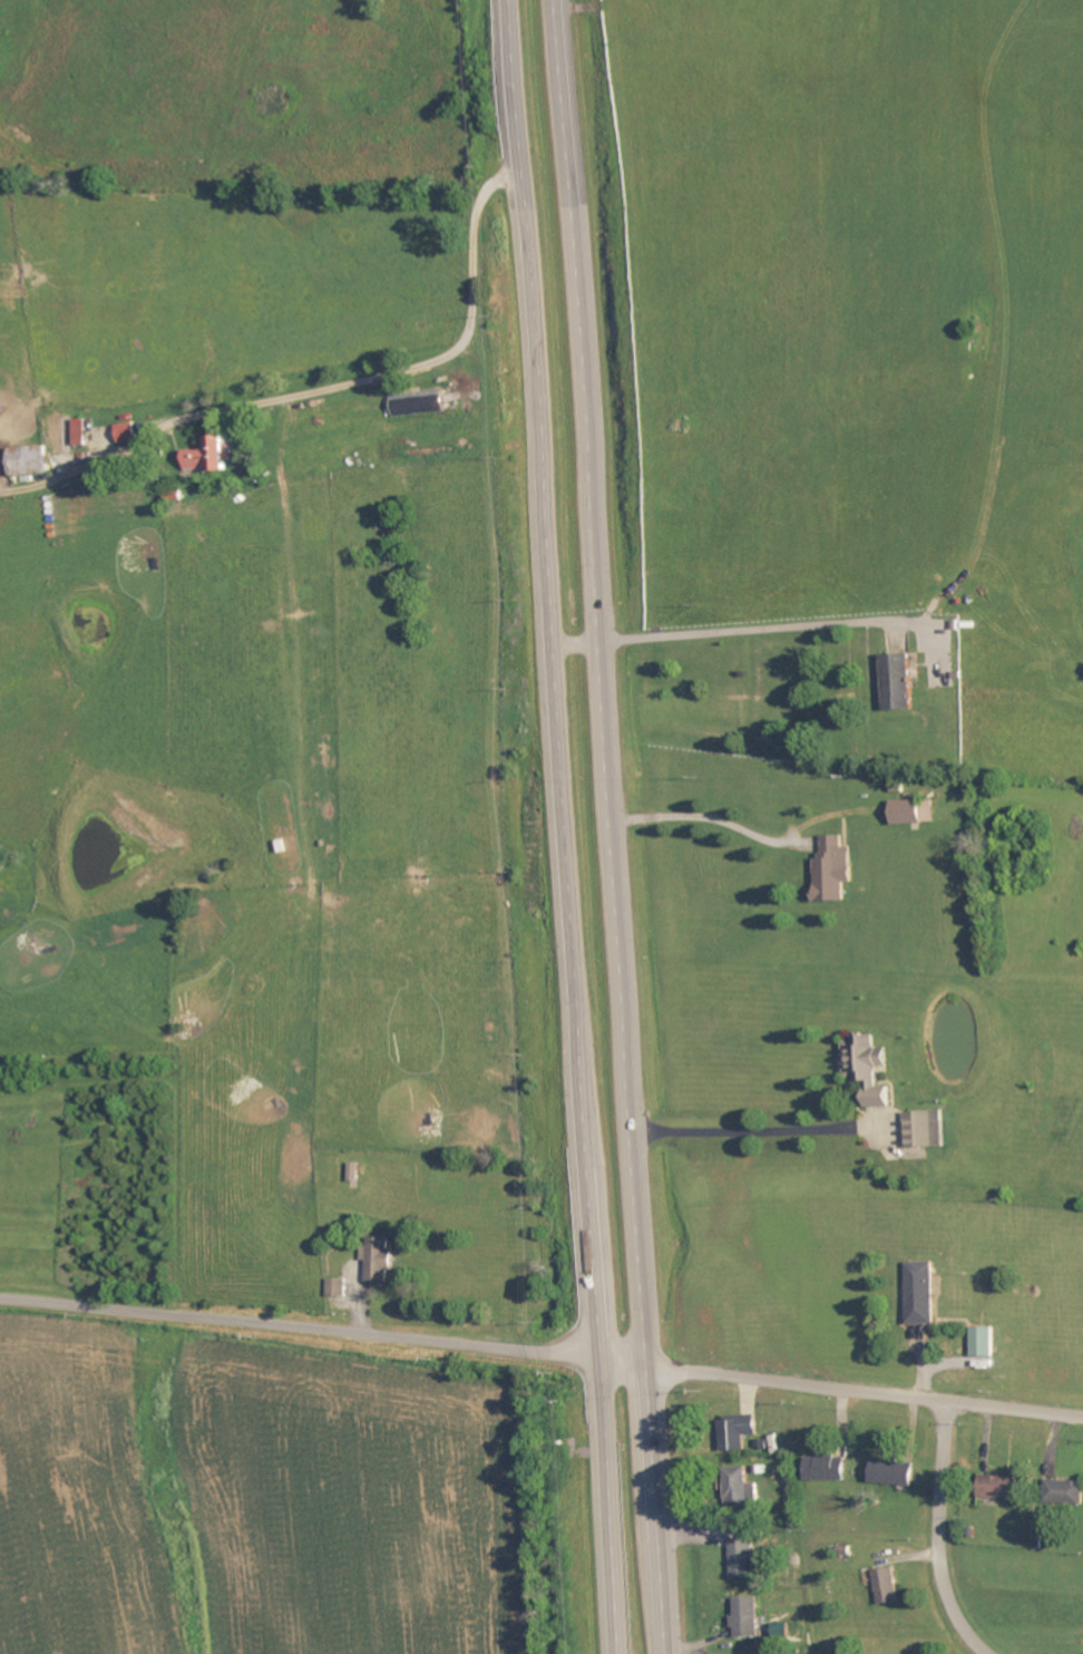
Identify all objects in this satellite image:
road: (412, 367)
building: (81, 432)
building: (128, 432)
building: (212, 455)
building: (33, 460)
road: (758, 627)
road: (577, 642)
building: (901, 681)
building: (911, 813)
road: (567, 826)
road: (614, 826)
building: (836, 870)
building: (870, 1068)
building: (928, 1129)
building: (357, 1173)
building: (381, 1259)
building: (338, 1288)
building: (924, 1293)
road: (301, 1326)
building: (987, 1342)
road: (842, 1385)
building: (741, 1432)
building: (829, 1469)
building: (896, 1473)
building: (743, 1488)
building: (1007, 1488)
building: (1065, 1492)
road: (940, 1535)
building: (744, 1558)
building: (889, 1587)
building: (749, 1618)

